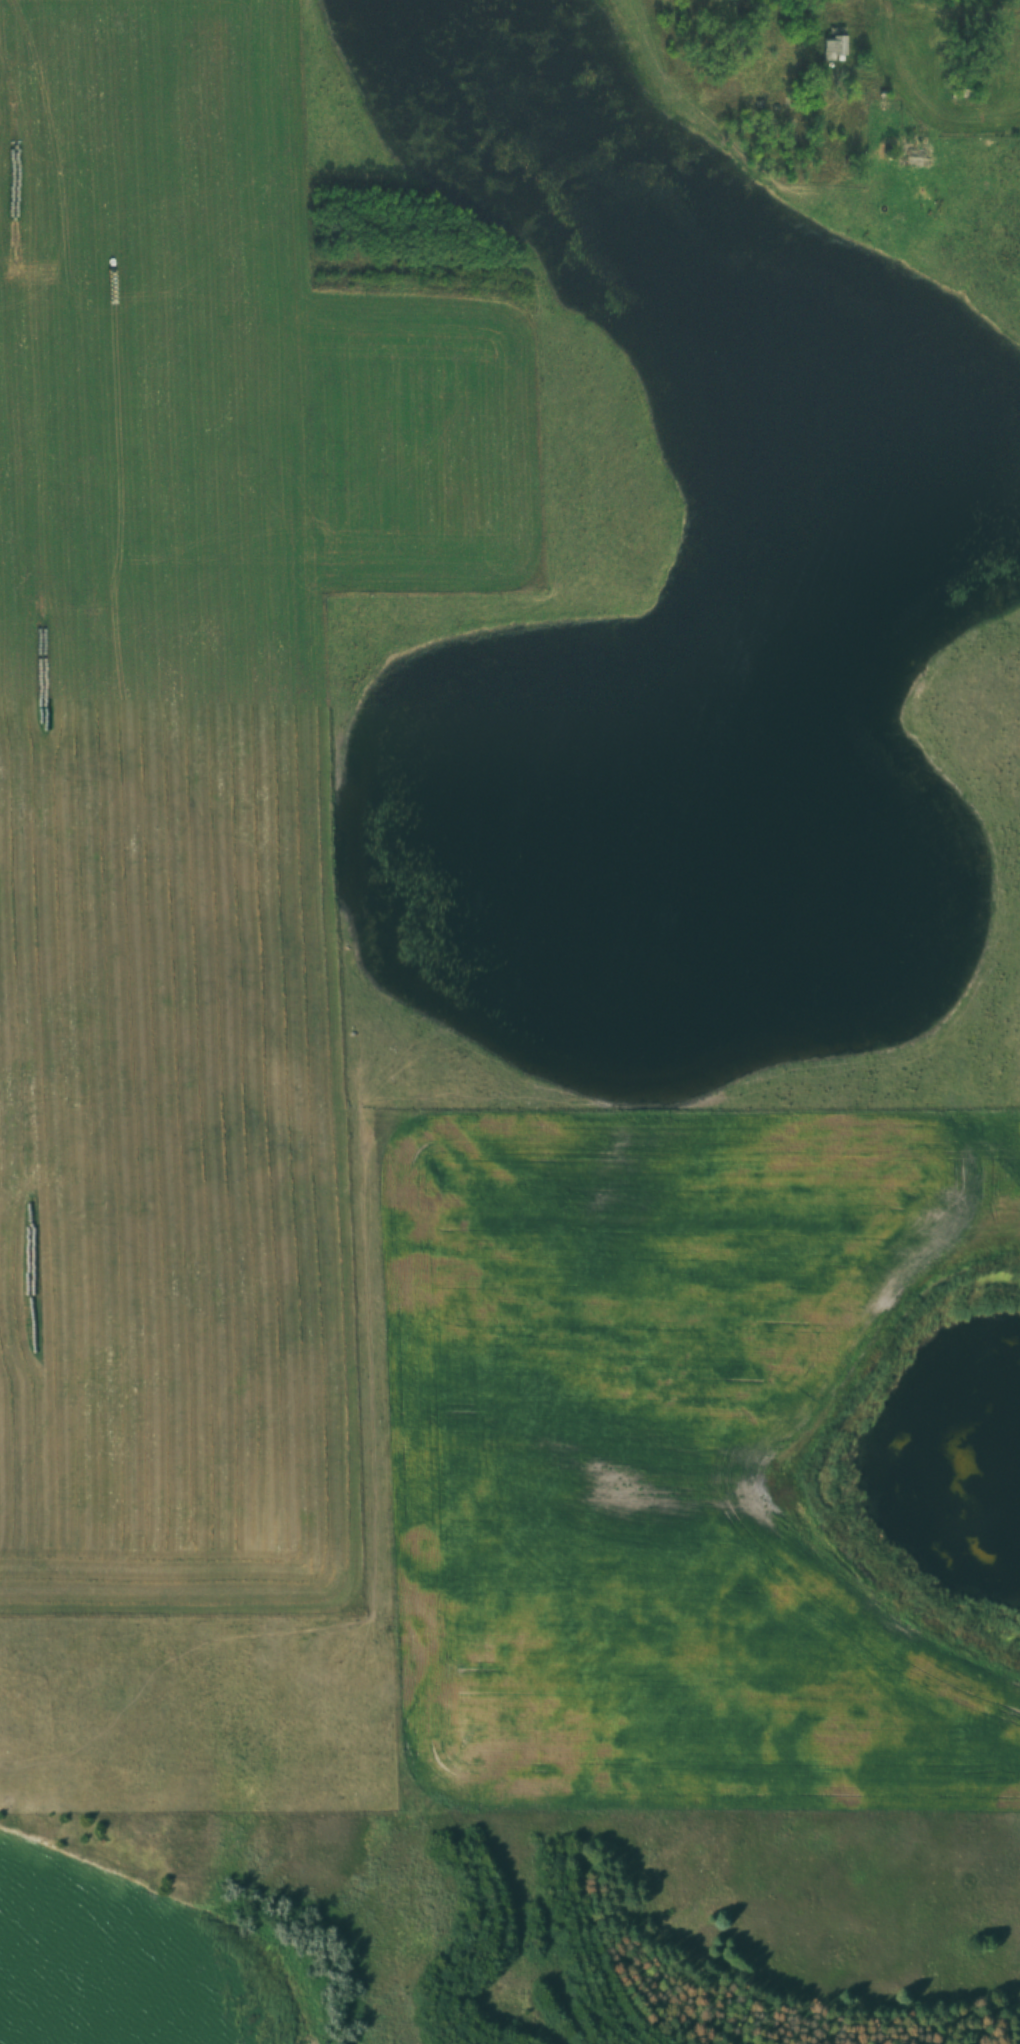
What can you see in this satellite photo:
building: (834, 48)
building: (910, 145)

